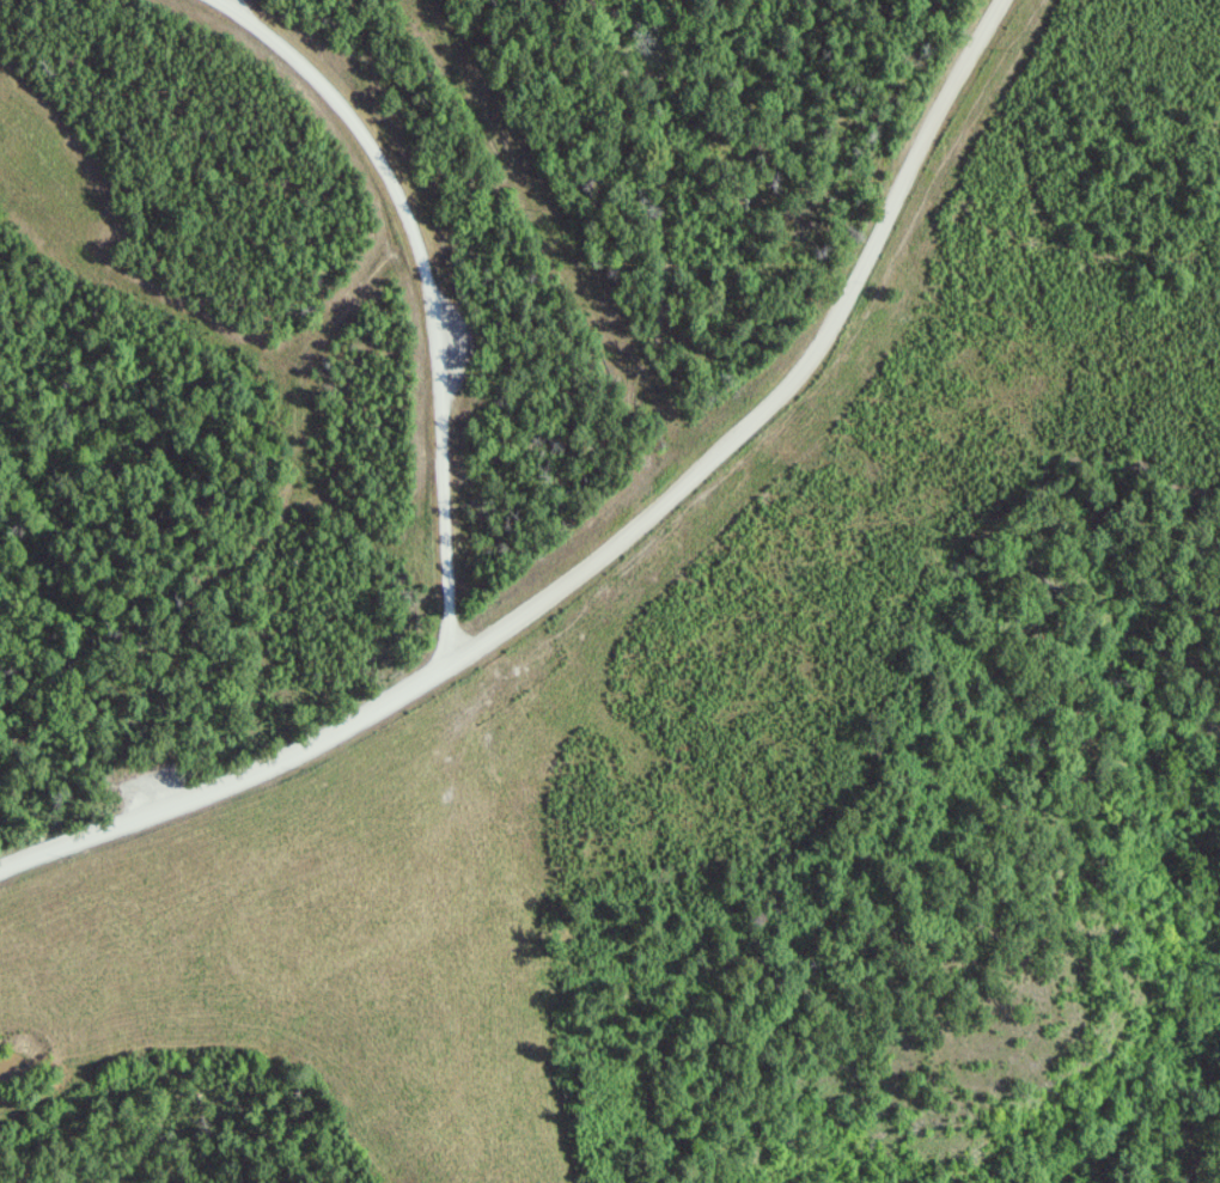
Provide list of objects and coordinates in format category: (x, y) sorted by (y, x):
road: (431, 292)
parking lot: (465, 344)
road: (606, 554)
parking lot: (158, 787)

